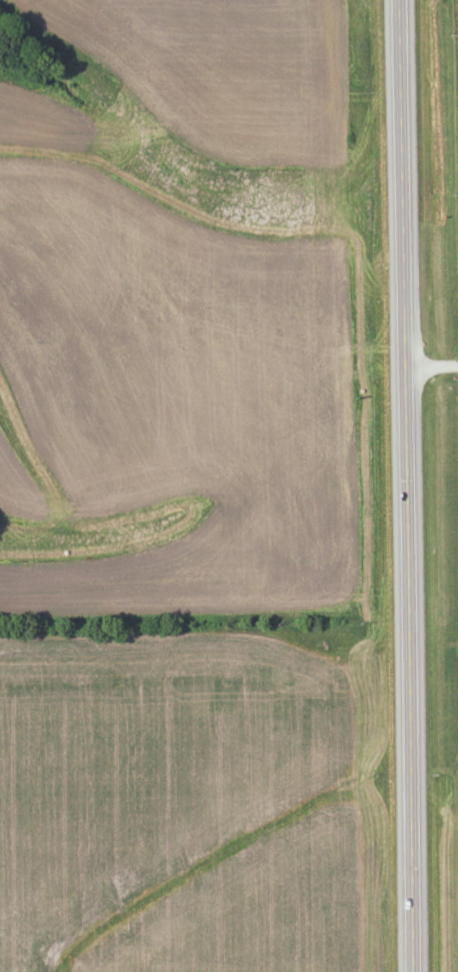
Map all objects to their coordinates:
road: (430, 85)
road: (432, 370)
road: (408, 485)

